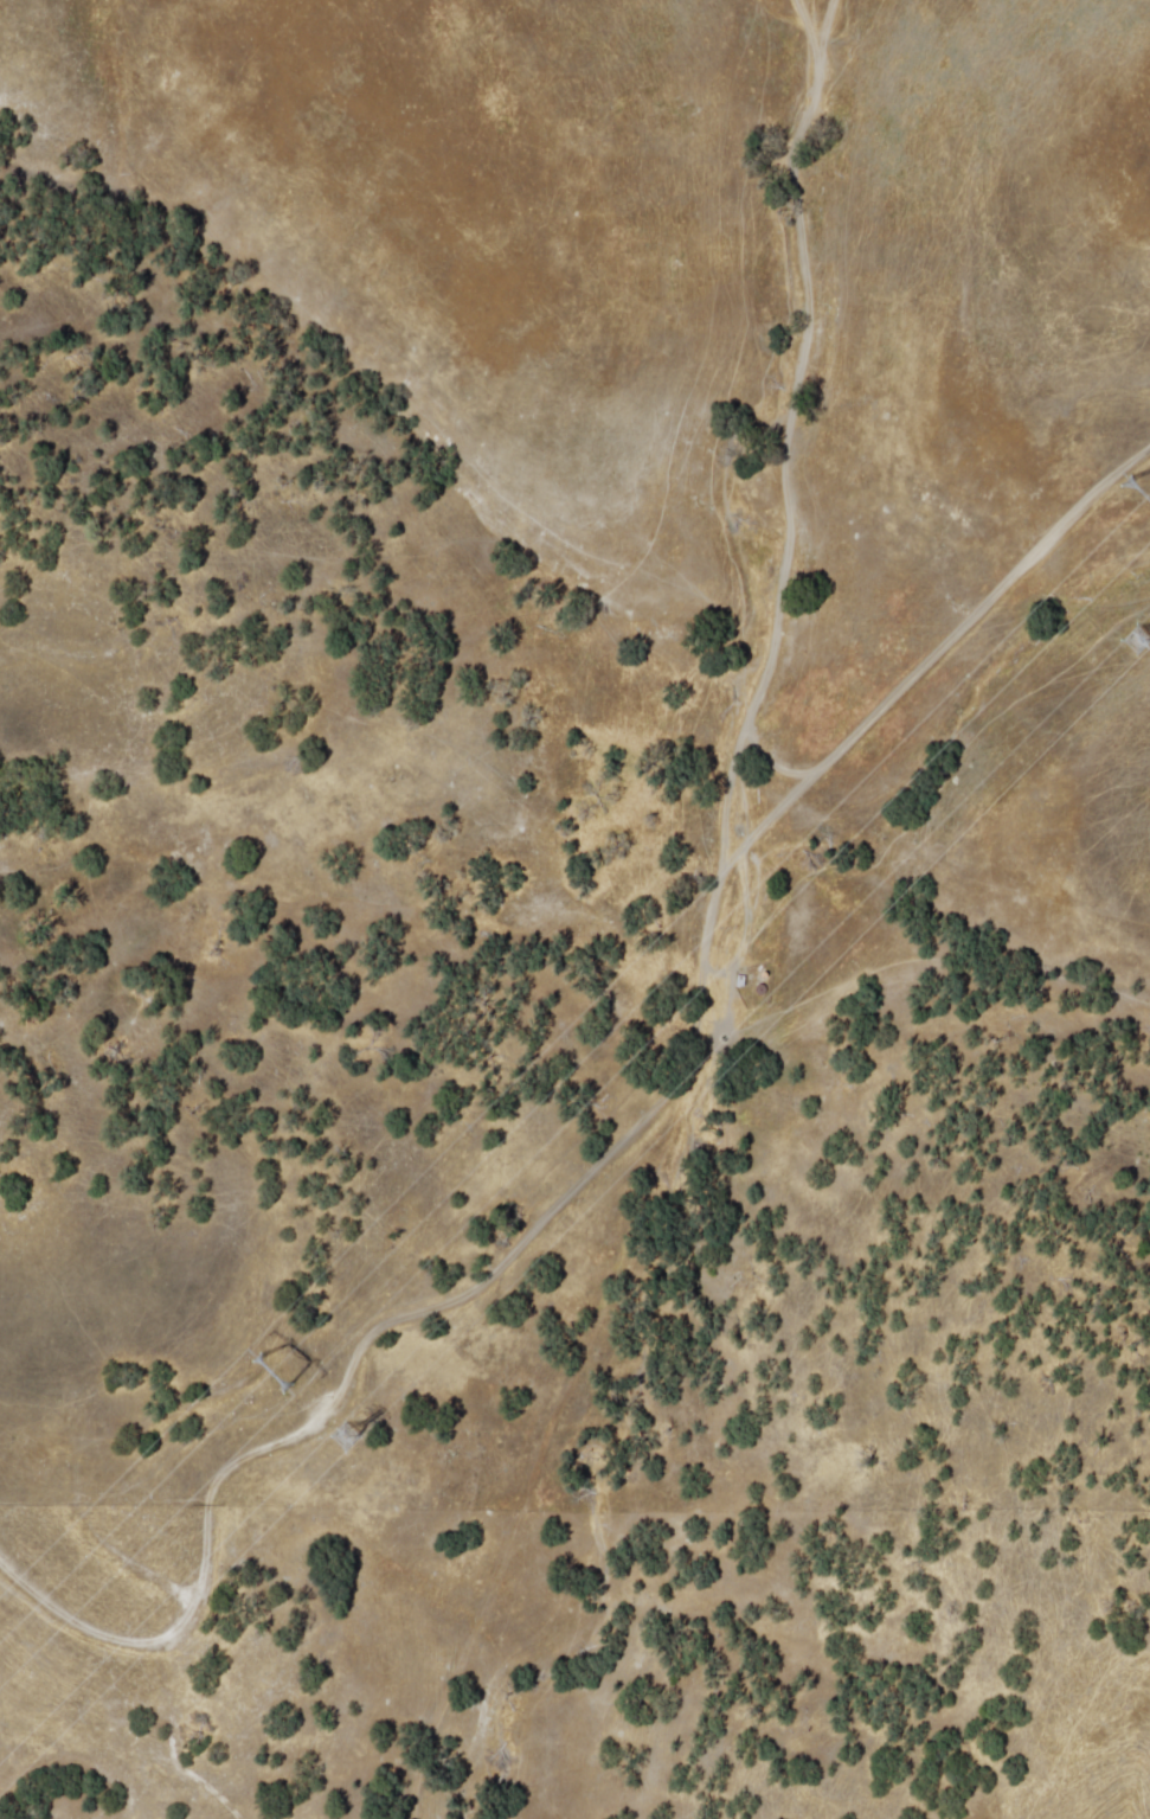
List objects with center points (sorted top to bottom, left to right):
power tower: (1136, 498)
power tower: (1131, 640)
road: (752, 858)
road: (630, 1273)
power tower: (264, 1378)
power tower: (343, 1439)
road: (137, 1638)
road: (460, 1664)

